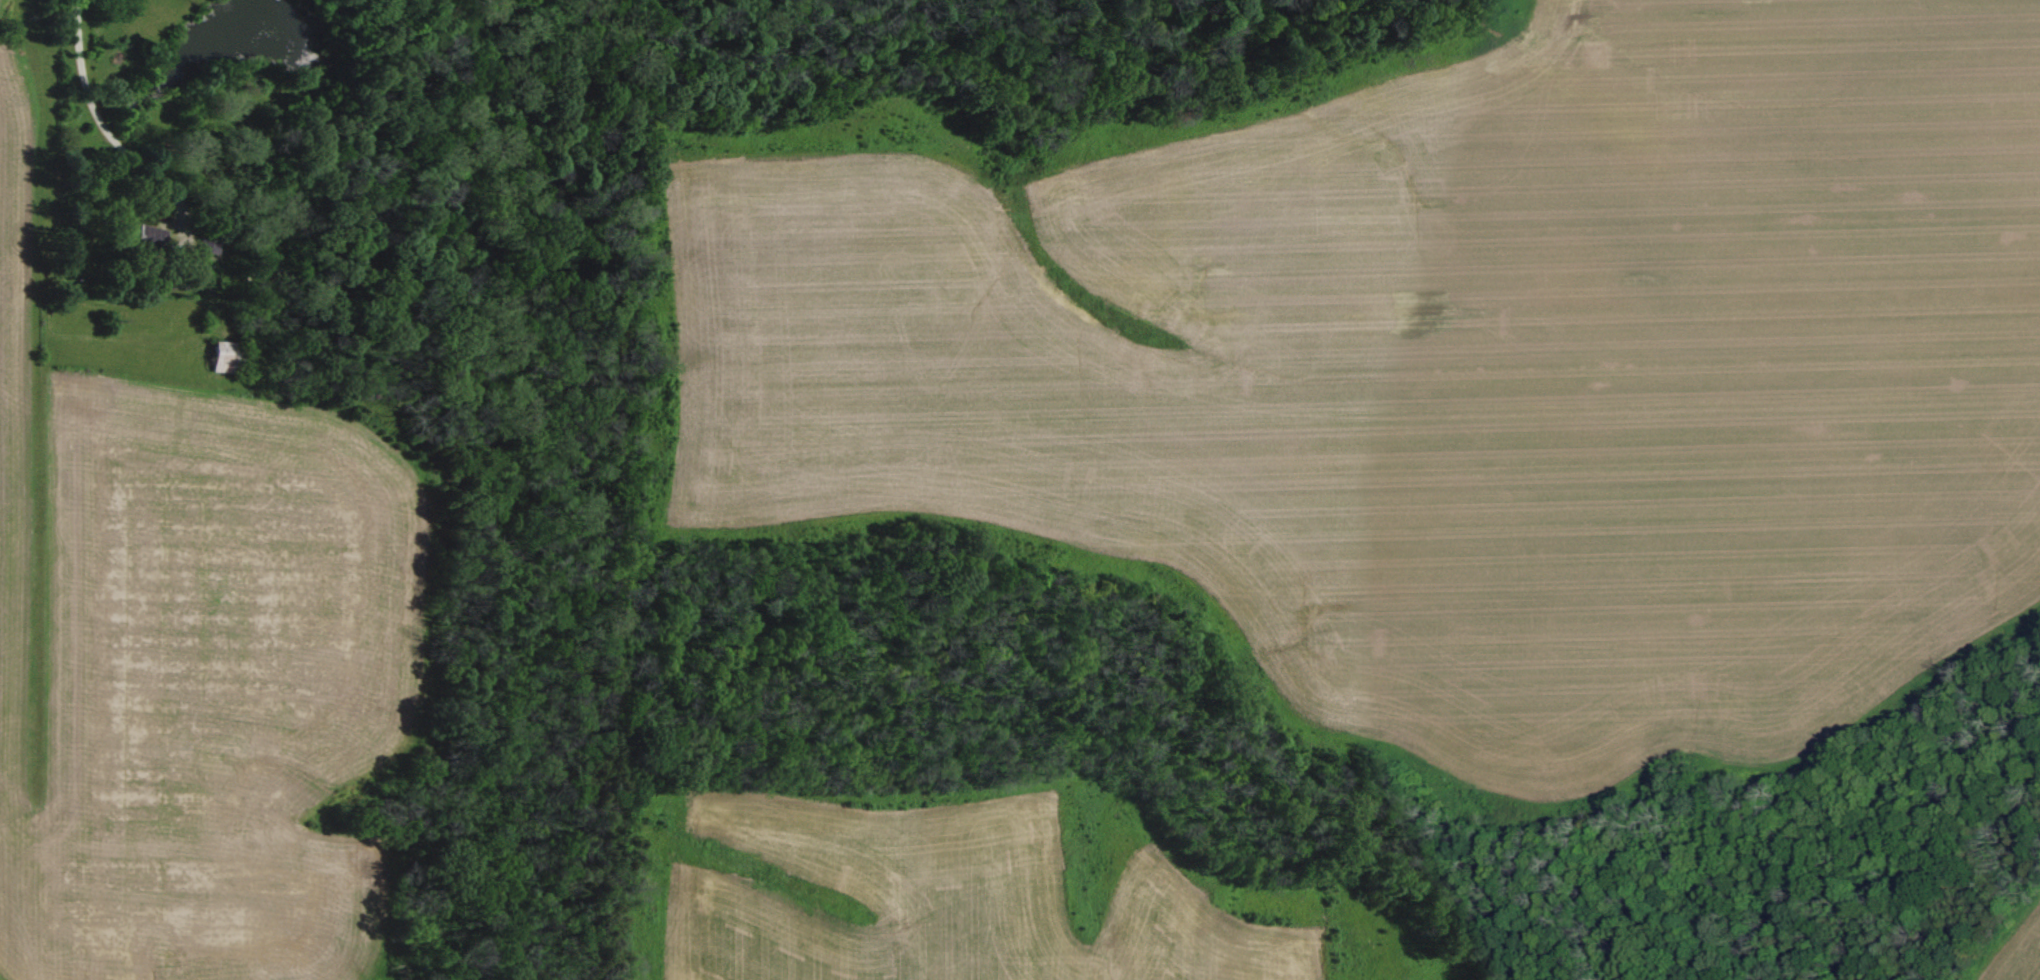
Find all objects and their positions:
road: (97, 117)
building: (228, 357)

